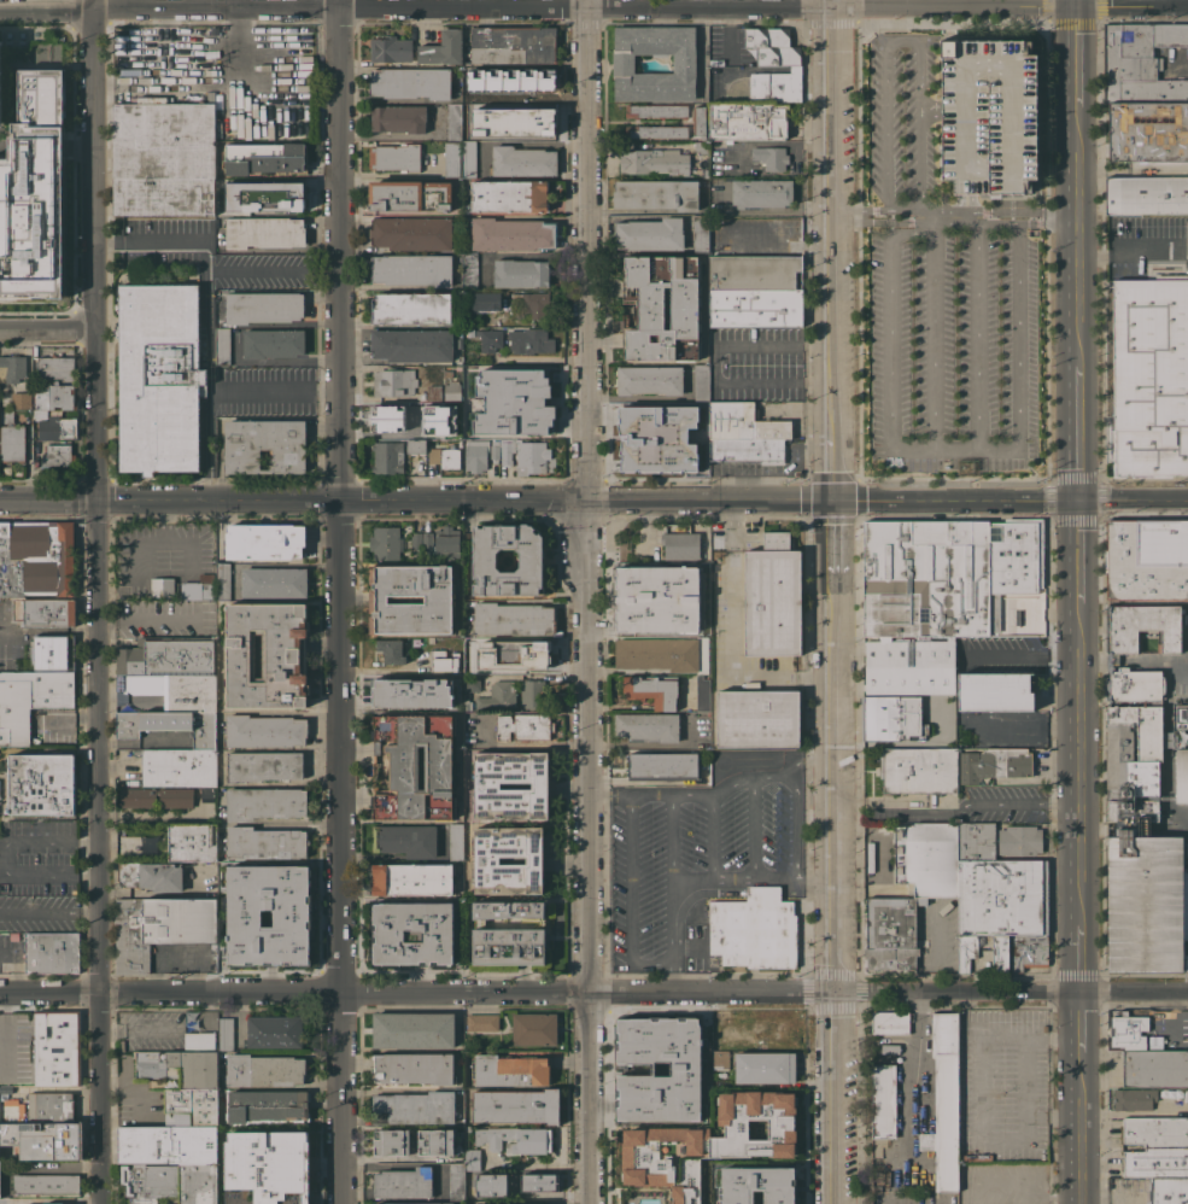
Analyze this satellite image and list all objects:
road: (1069, 2)
road: (236, 4)
traffic signals: (1070, 6)
road: (593, 7)
road: (902, 41)
building: (513, 45)
building: (771, 46)
building: (391, 48)
building: (443, 49)
building: (684, 64)
building: (0, 78)
parking garage: (0, 78)
building: (410, 82)
building: (776, 86)
building: (1145, 95)
building: (656, 110)
building: (988, 115)
parking garage: (988, 115)
parking lot: (901, 117)
building: (398, 118)
building: (510, 121)
building: (748, 121)
building: (455, 122)
building: (700, 122)
building: (656, 131)
building: (701, 146)
building: (394, 157)
building: (771, 157)
building: (164, 158)
building: (264, 158)
building: (451, 159)
building: (468, 159)
building: (522, 160)
building: (654, 160)
road: (831, 170)
building: (704, 173)
building: (34, 192)
building: (761, 193)
building: (656, 194)
building: (410, 195)
building: (509, 195)
building: (1146, 195)
building: (262, 197)
road: (960, 201)
road: (973, 201)
road: (765, 210)
road: (952, 210)
road: (929, 217)
road: (953, 224)
road: (934, 229)
building: (263, 232)
building: (411, 233)
building: (701, 233)
building: (511, 234)
building: (650, 234)
road: (788, 246)
road: (1129, 246)
road: (207, 264)
building: (411, 269)
building: (469, 270)
building: (520, 273)
building: (754, 291)
building: (486, 300)
building: (533, 303)
building: (262, 306)
building: (661, 306)
building: (411, 308)
road: (890, 321)
road: (48, 333)
road: (977, 337)
road: (1016, 337)
building: (490, 339)
building: (531, 340)
building: (273, 343)
road: (932, 343)
building: (412, 345)
building: (222, 346)
parking lot: (954, 350)
road: (836, 360)
road: (273, 361)
road: (714, 363)
building: (12, 368)
building: (55, 368)
building: (446, 373)
building: (159, 376)
building: (1151, 376)
building: (649, 379)
building: (393, 381)
building: (701, 381)
building: (452, 391)
road: (221, 392)
building: (434, 392)
building: (52, 396)
building: (511, 398)
building: (21, 401)
building: (452, 408)
building: (691, 411)
building: (39, 414)
building: (394, 415)
building: (639, 419)
building: (743, 422)
building: (443, 426)
building: (57, 427)
building: (702, 431)
building: (11, 438)
building: (1107, 443)
building: (264, 445)
building: (416, 446)
building: (747, 449)
building: (494, 450)
road: (953, 450)
building: (638, 454)
building: (57, 455)
building: (475, 455)
building: (525, 455)
building: (694, 455)
building: (387, 456)
building: (668, 456)
building: (444, 457)
road: (538, 499)
traffic signals: (835, 499)
road: (1133, 499)
traffic signals: (586, 501)
traffic signals: (1078, 501)
building: (416, 539)
building: (264, 540)
building: (427, 540)
building: (385, 543)
building: (447, 543)
building: (680, 545)
building: (36, 557)
building: (531, 560)
building: (1147, 560)
building: (702, 569)
building: (639, 577)
building: (223, 580)
building: (275, 583)
building: (162, 586)
building: (199, 588)
building: (938, 592)
building: (772, 597)
building: (437, 600)
building: (646, 601)
road: (98, 602)
road: (338, 602)
road: (586, 602)
road: (1078, 604)
building: (45, 612)
building: (678, 613)
building: (513, 618)
road: (145, 619)
building: (624, 625)
building: (648, 626)
building: (1143, 626)
building: (391, 650)
building: (54, 651)
building: (657, 653)
road: (1025, 653)
building: (267, 654)
building: (514, 654)
building: (166, 657)
building: (443, 660)
building: (472, 682)
building: (1135, 684)
building: (408, 691)
building: (652, 691)
building: (995, 691)
building: (532, 692)
building: (702, 692)
building: (193, 694)
building: (498, 696)
building: (30, 700)
building: (467, 705)
road: (1166, 705)
building: (940, 706)
building: (1123, 714)
building: (890, 717)
building: (759, 718)
building: (1180, 724)
building: (170, 725)
building: (648, 725)
building: (523, 726)
building: (264, 730)
building: (1149, 731)
building: (1187, 737)
building: (1118, 753)
building: (994, 764)
building: (264, 765)
building: (662, 765)
building: (414, 766)
building: (180, 767)
building: (918, 770)
building: (1181, 775)
building: (1141, 777)
building: (41, 783)
building: (487, 785)
building: (209, 789)
road: (715, 789)
road: (836, 791)
road: (1017, 800)
building: (137, 801)
building: (264, 802)
road: (899, 803)
building: (1130, 812)
road: (795, 820)
road: (753, 825)
road: (710, 834)
road: (671, 836)
building: (405, 840)
building: (1020, 840)
building: (193, 842)
building: (265, 842)
building: (456, 842)
road: (6, 857)
building: (927, 858)
building: (487, 860)
building: (151, 875)
building: (412, 878)
road: (679, 879)
road: (814, 879)
building: (1002, 896)
road: (630, 898)
building: (1184, 901)
building: (1146, 902)
building: (507, 908)
road: (48, 911)
building: (264, 913)
building: (160, 927)
building: (755, 929)
building: (411, 933)
building: (890, 933)
building: (509, 946)
building: (966, 951)
building: (1029, 951)
building: (52, 952)
building: (1000, 953)
building: (1183, 962)
road: (593, 990)
building: (481, 1022)
building: (890, 1022)
building: (718, 1027)
building: (414, 1029)
building: (534, 1029)
building: (774, 1029)
building: (1128, 1030)
building: (274, 1031)
building: (226, 1033)
building: (199, 1040)
building: (57, 1047)
building: (719, 1047)
building: (889, 1048)
road: (914, 1058)
building: (720, 1059)
building: (179, 1068)
building: (414, 1068)
building: (655, 1068)
building: (765, 1068)
building: (1154, 1068)
building: (264, 1070)
building: (510, 1070)
road: (130, 1083)
building: (6, 1089)
building: (1186, 1094)
building: (1135, 1098)
building: (883, 1101)
building: (943, 1103)
building: (267, 1105)
building: (49, 1106)
building: (191, 1106)
building: (516, 1106)
building: (414, 1107)
road: (977, 1107)
building: (12, 1109)
building: (468, 1128)
building: (1154, 1133)
building: (534, 1140)
building: (391, 1141)
building: (434, 1141)
building: (62, 1142)
building: (709, 1142)
building: (168, 1144)
building: (13, 1145)
building: (472, 1158)
building: (1155, 1162)
building: (262, 1167)
building: (1026, 1179)
building: (456, 1181)
building: (169, 1182)
building: (404, 1182)
building: (537, 1182)
building: (46, 1183)
building: (756, 1185)
building: (490, 1186)
building: (972, 1191)
building: (1169, 1191)
road: (1110, 1199)
building: (4, 1200)
building: (988, 1202)
building: (52, 1203)
building: (414, 1203)
building: (527, 1203)
building: (1028, 1203)

